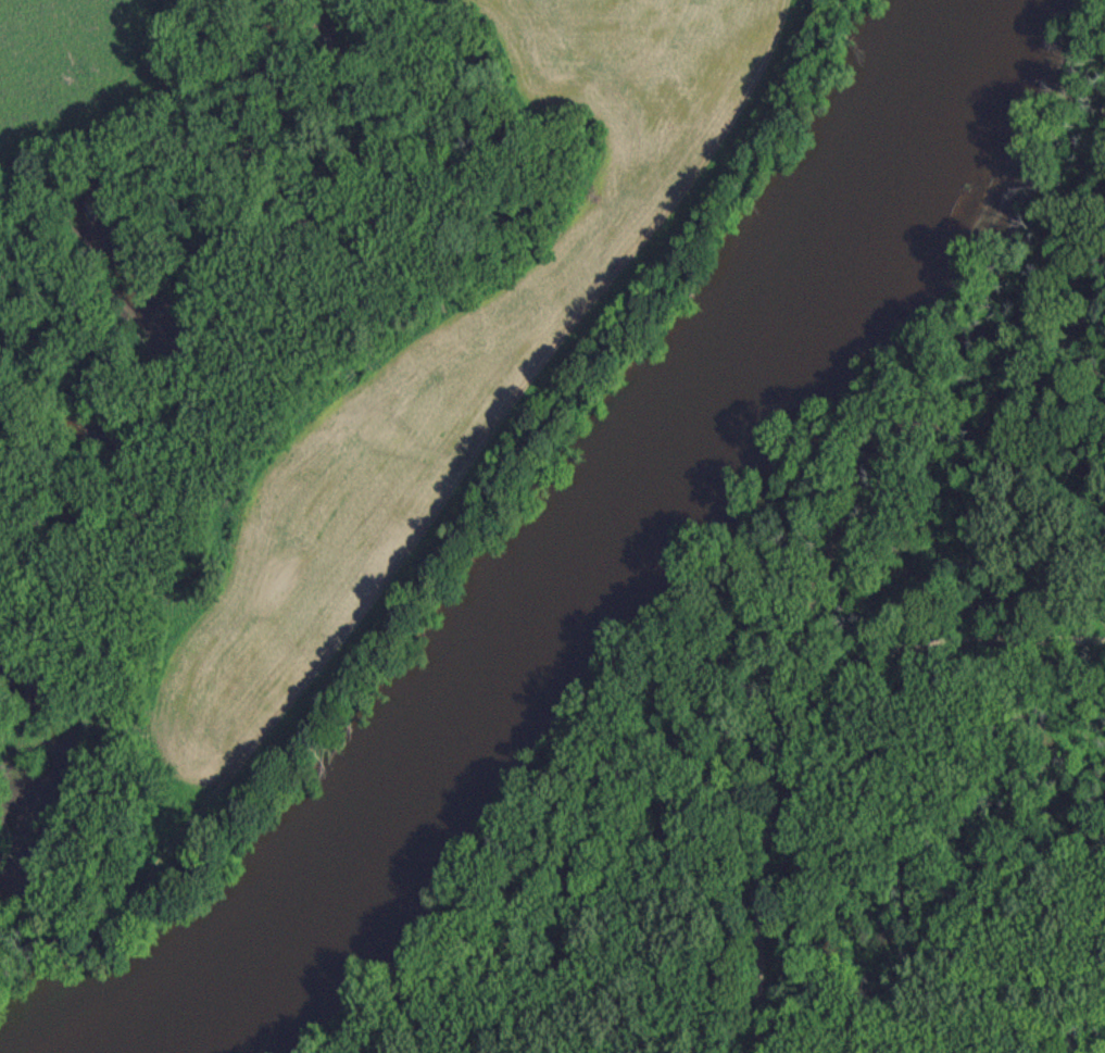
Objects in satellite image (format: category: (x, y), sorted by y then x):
river: (210, 276)
river: (573, 543)
road: (796, 724)
river: (21, 897)

